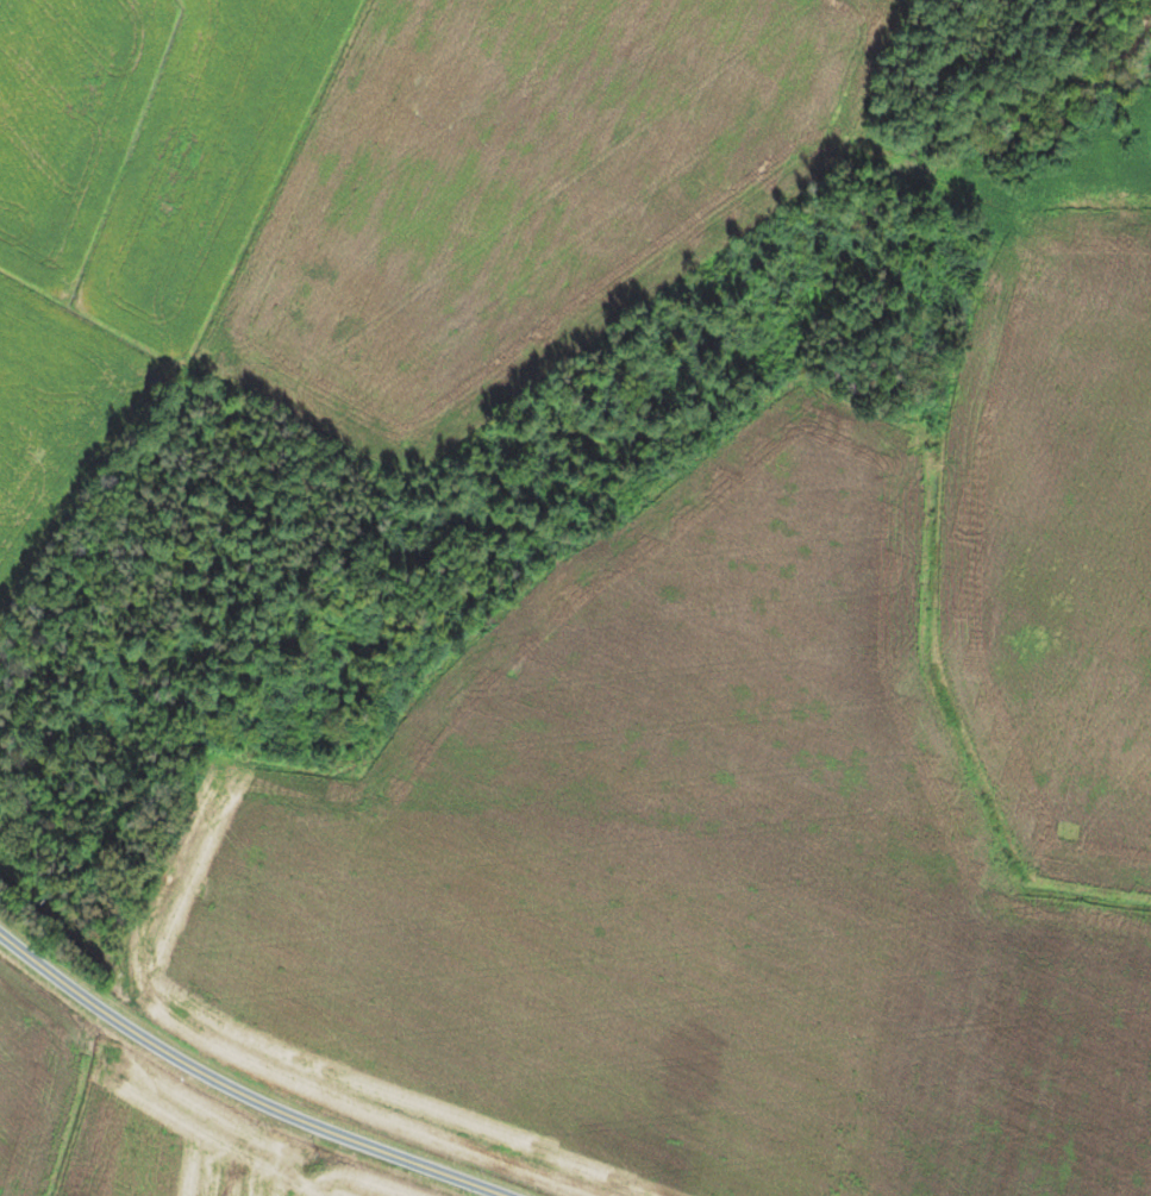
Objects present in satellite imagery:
road: (239, 1090)

